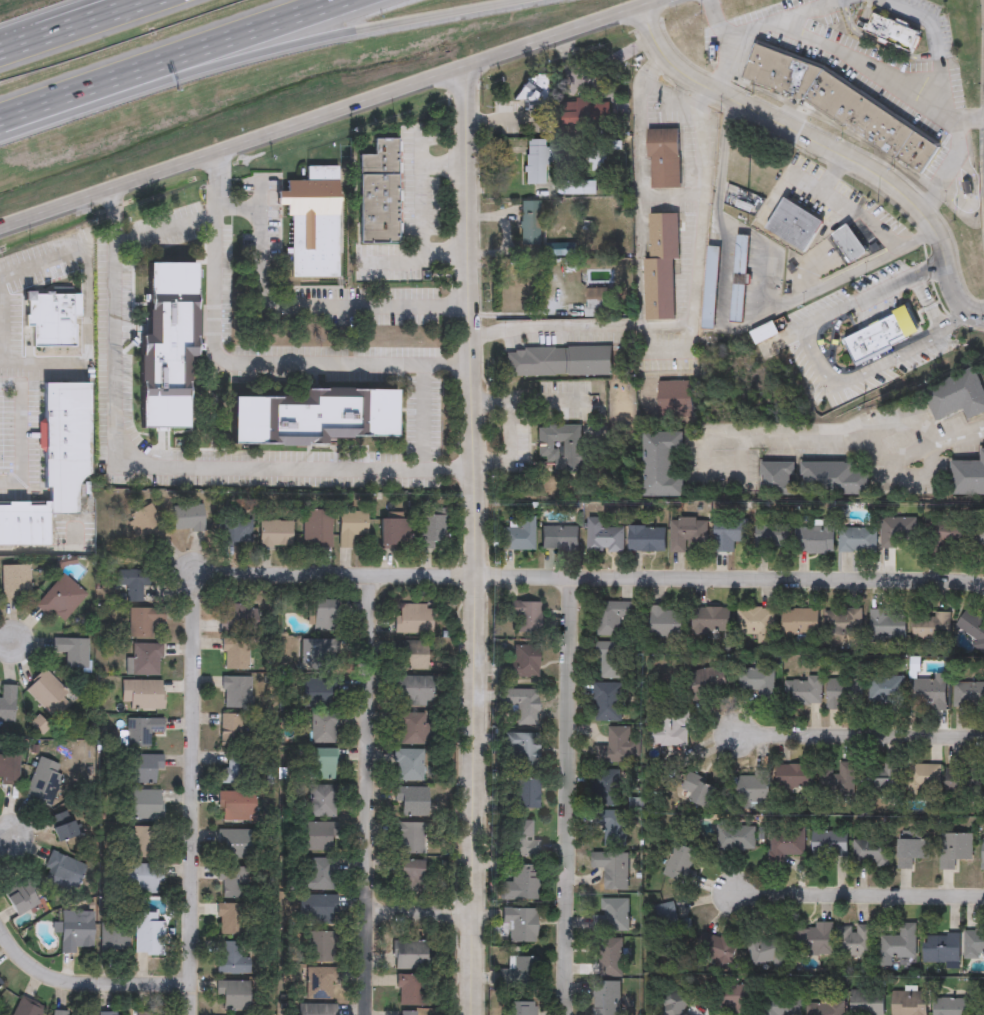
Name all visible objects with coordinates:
road: (44, 16)
road: (73, 25)
road: (762, 25)
building: (891, 31)
road: (257, 53)
road: (169, 58)
road: (857, 61)
road: (934, 64)
building: (533, 94)
road: (671, 97)
building: (837, 104)
building: (585, 112)
road: (329, 116)
road: (829, 149)
building: (662, 157)
building: (537, 162)
road: (956, 168)
road: (830, 173)
building: (581, 188)
building: (377, 193)
road: (650, 196)
road: (847, 207)
road: (420, 208)
building: (311, 222)
building: (530, 223)
building: (793, 224)
road: (166, 226)
building: (847, 242)
building: (742, 255)
building: (659, 265)
road: (806, 271)
building: (711, 288)
road: (873, 293)
road: (306, 304)
building: (738, 304)
building: (49, 318)
road: (647, 326)
road: (724, 326)
building: (880, 335)
building: (166, 344)
road: (82, 358)
building: (558, 360)
road: (243, 363)
road: (872, 367)
road: (421, 385)
building: (957, 395)
parking lot: (565, 398)
building: (673, 398)
building: (312, 417)
road: (509, 432)
road: (849, 440)
parking lot: (523, 444)
building: (563, 448)
road: (919, 452)
road: (191, 460)
building: (54, 465)
building: (663, 465)
building: (967, 477)
building: (833, 478)
building: (777, 479)
building: (187, 517)
building: (146, 526)
building: (351, 526)
building: (317, 528)
building: (900, 530)
building: (234, 531)
building: (395, 532)
building: (433, 532)
building: (274, 533)
building: (517, 533)
building: (685, 533)
building: (730, 534)
building: (945, 535)
building: (603, 536)
building: (798, 536)
building: (559, 537)
building: (645, 538)
building: (979, 538)
building: (858, 539)
road: (480, 541)
road: (600, 575)
building: (15, 581)
building: (132, 582)
building: (60, 599)
building: (235, 614)
building: (322, 614)
building: (528, 616)
building: (611, 616)
building: (414, 618)
building: (710, 619)
building: (142, 620)
building: (665, 621)
building: (800, 621)
building: (842, 621)
building: (756, 622)
building: (887, 623)
building: (931, 624)
building: (971, 627)
road: (9, 639)
building: (72, 650)
building: (236, 653)
building: (319, 653)
building: (411, 654)
building: (145, 659)
building: (525, 660)
building: (611, 660)
building: (754, 678)
building: (705, 682)
building: (886, 689)
building: (414, 690)
building: (804, 690)
building: (236, 692)
building: (930, 692)
building: (47, 693)
building: (317, 693)
building: (844, 693)
building: (968, 694)
building: (141, 695)
building: (608, 701)
building: (7, 703)
building: (525, 706)
building: (324, 726)
building: (413, 728)
building: (142, 730)
building: (232, 730)
building: (667, 730)
road: (862, 735)
building: (621, 745)
building: (521, 749)
building: (322, 764)
building: (409, 765)
building: (143, 768)
building: (8, 769)
building: (237, 769)
building: (793, 776)
building: (879, 778)
building: (837, 780)
building: (923, 780)
building: (44, 781)
building: (963, 781)
building: (754, 787)
building: (609, 788)
road: (197, 790)
road: (374, 792)
building: (698, 792)
building: (525, 793)
road: (567, 794)
building: (323, 801)
building: (411, 801)
building: (142, 804)
building: (236, 805)
building: (62, 825)
building: (614, 828)
building: (319, 836)
road: (6, 837)
building: (736, 837)
building: (408, 838)
building: (520, 839)
building: (145, 841)
building: (234, 843)
building: (785, 844)
building: (829, 844)
building: (955, 849)
building: (911, 851)
building: (871, 852)
building: (982, 854)
building: (682, 863)
building: (612, 869)
building: (63, 871)
building: (317, 874)
building: (408, 875)
building: (141, 877)
building: (232, 881)
building: (520, 883)
road: (858, 893)
building: (22, 899)
road: (425, 904)
building: (317, 909)
building: (613, 914)
building: (231, 918)
building: (670, 921)
building: (519, 924)
building: (74, 930)
building: (147, 933)
building: (114, 937)
building: (817, 939)
building: (854, 940)
building: (973, 943)
building: (898, 944)
building: (321, 946)
building: (941, 947)
building: (716, 949)
building: (767, 949)
building: (415, 954)
building: (610, 957)
building: (232, 959)
building: (519, 973)
road: (88, 982)
building: (319, 983)
building: (0, 984)
building: (410, 990)
building: (233, 994)
building: (606, 998)
building: (731, 998)
building: (683, 1003)
building: (866, 1003)
building: (908, 1003)
building: (781, 1005)
building: (950, 1006)
building: (825, 1007)
building: (522, 1008)
building: (26, 1009)
building: (314, 1009)
building: (980, 1011)
building: (58, 1012)
building: (144, 1013)
building: (407, 1013)
building: (113, 1014)

